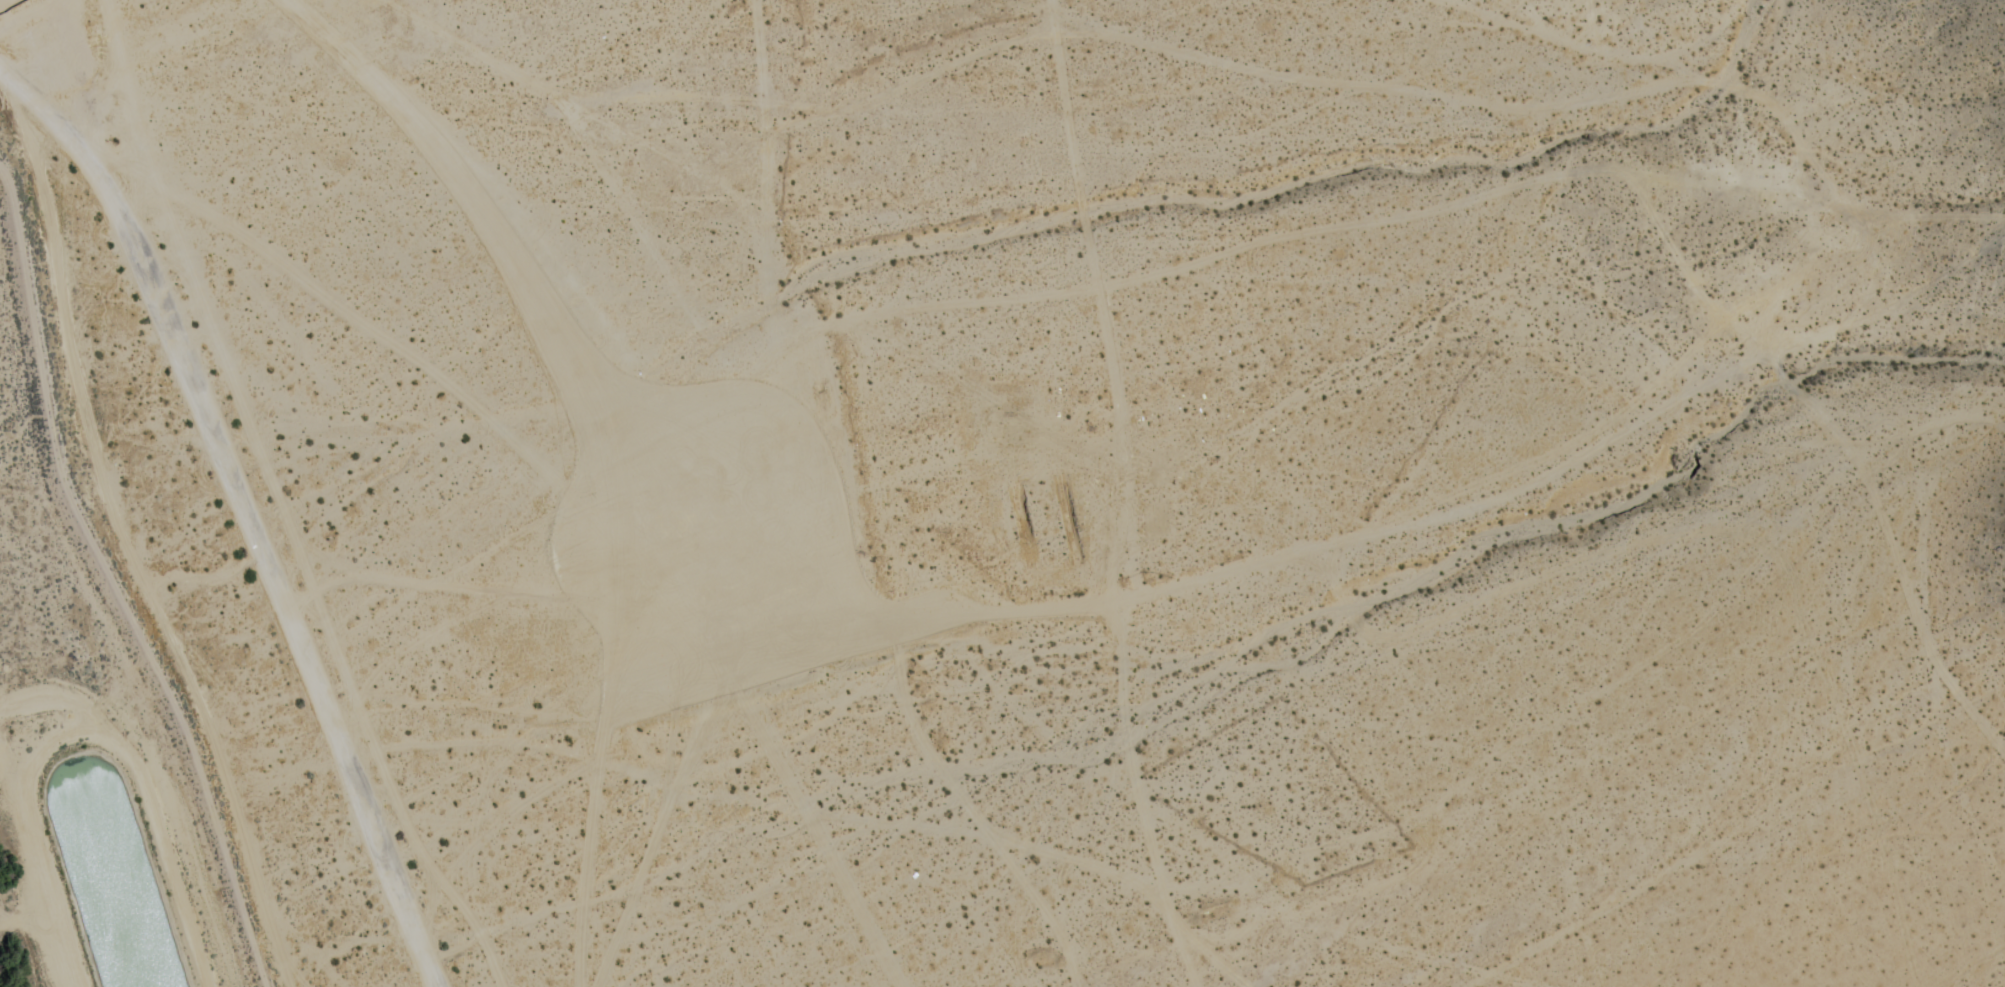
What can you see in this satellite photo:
road: (237, 514)

